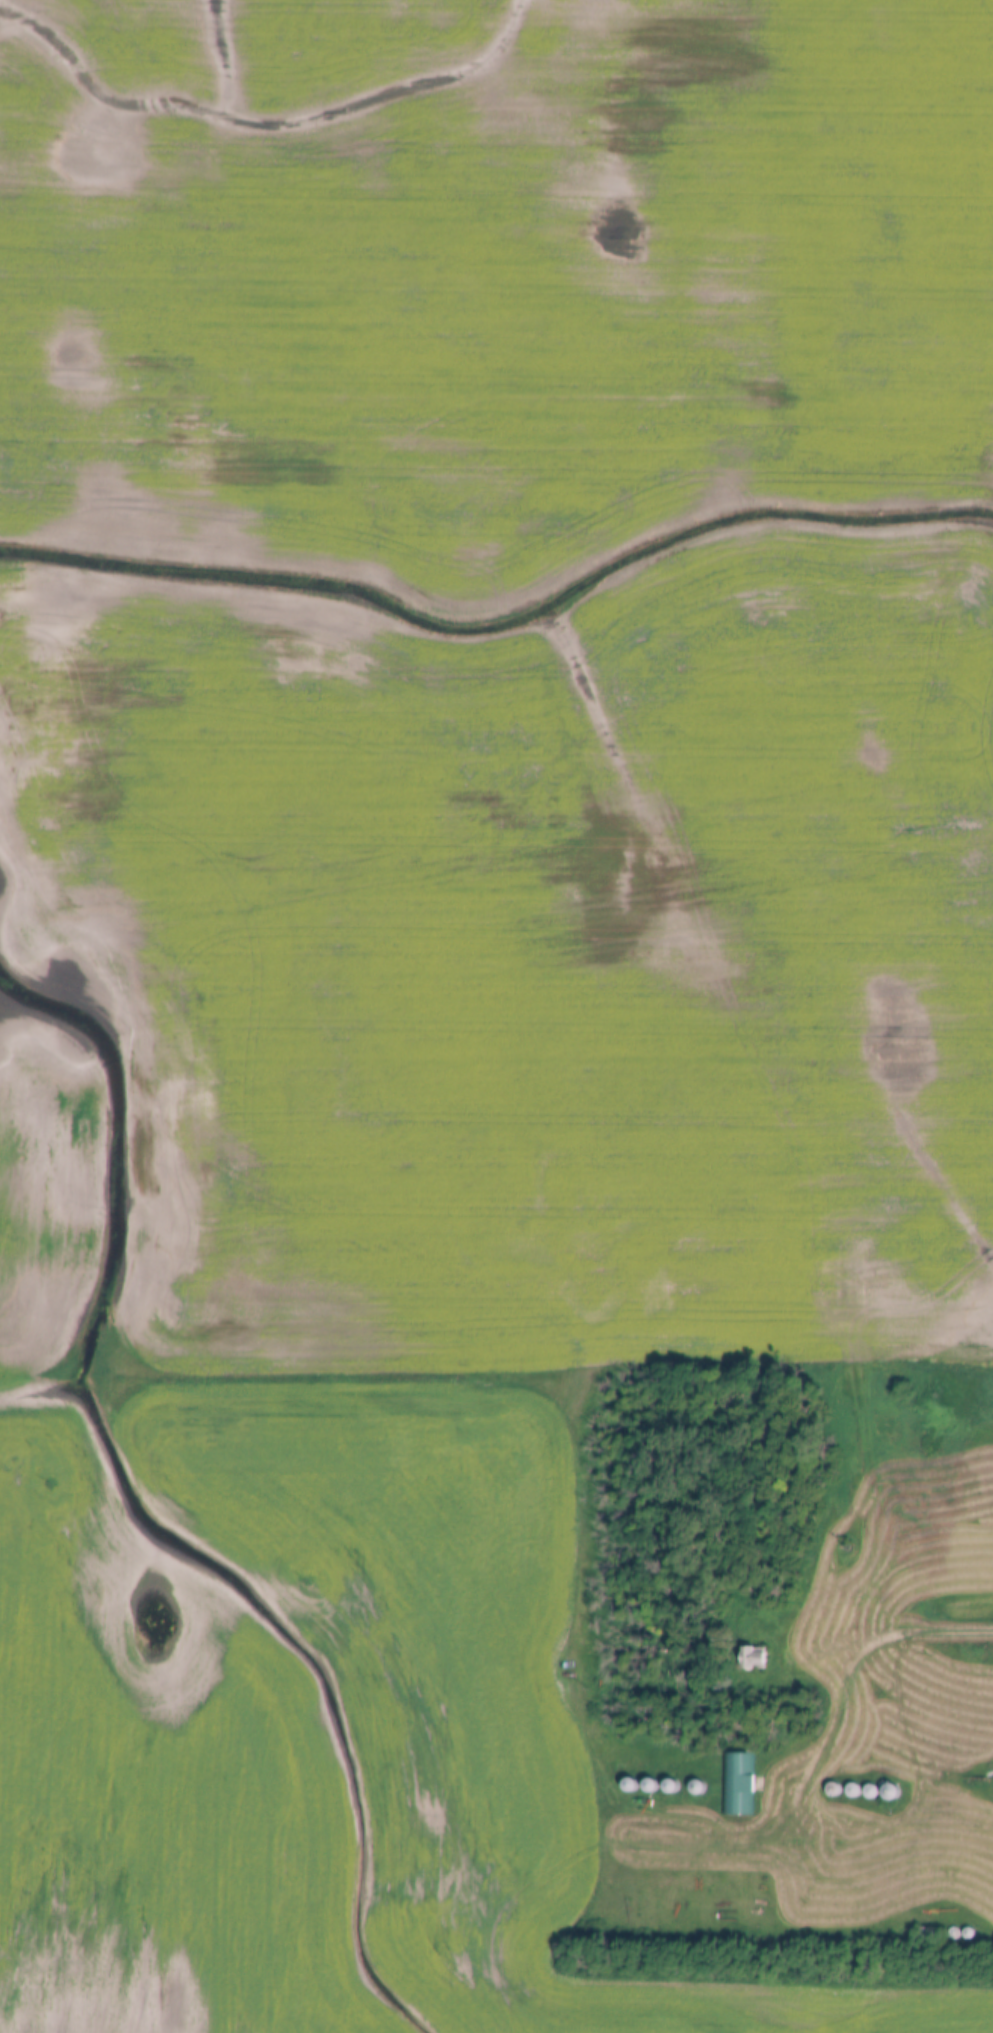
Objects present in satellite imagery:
road: (951, 1630)
building: (755, 1661)
building: (738, 1786)
road: (833, 1827)

